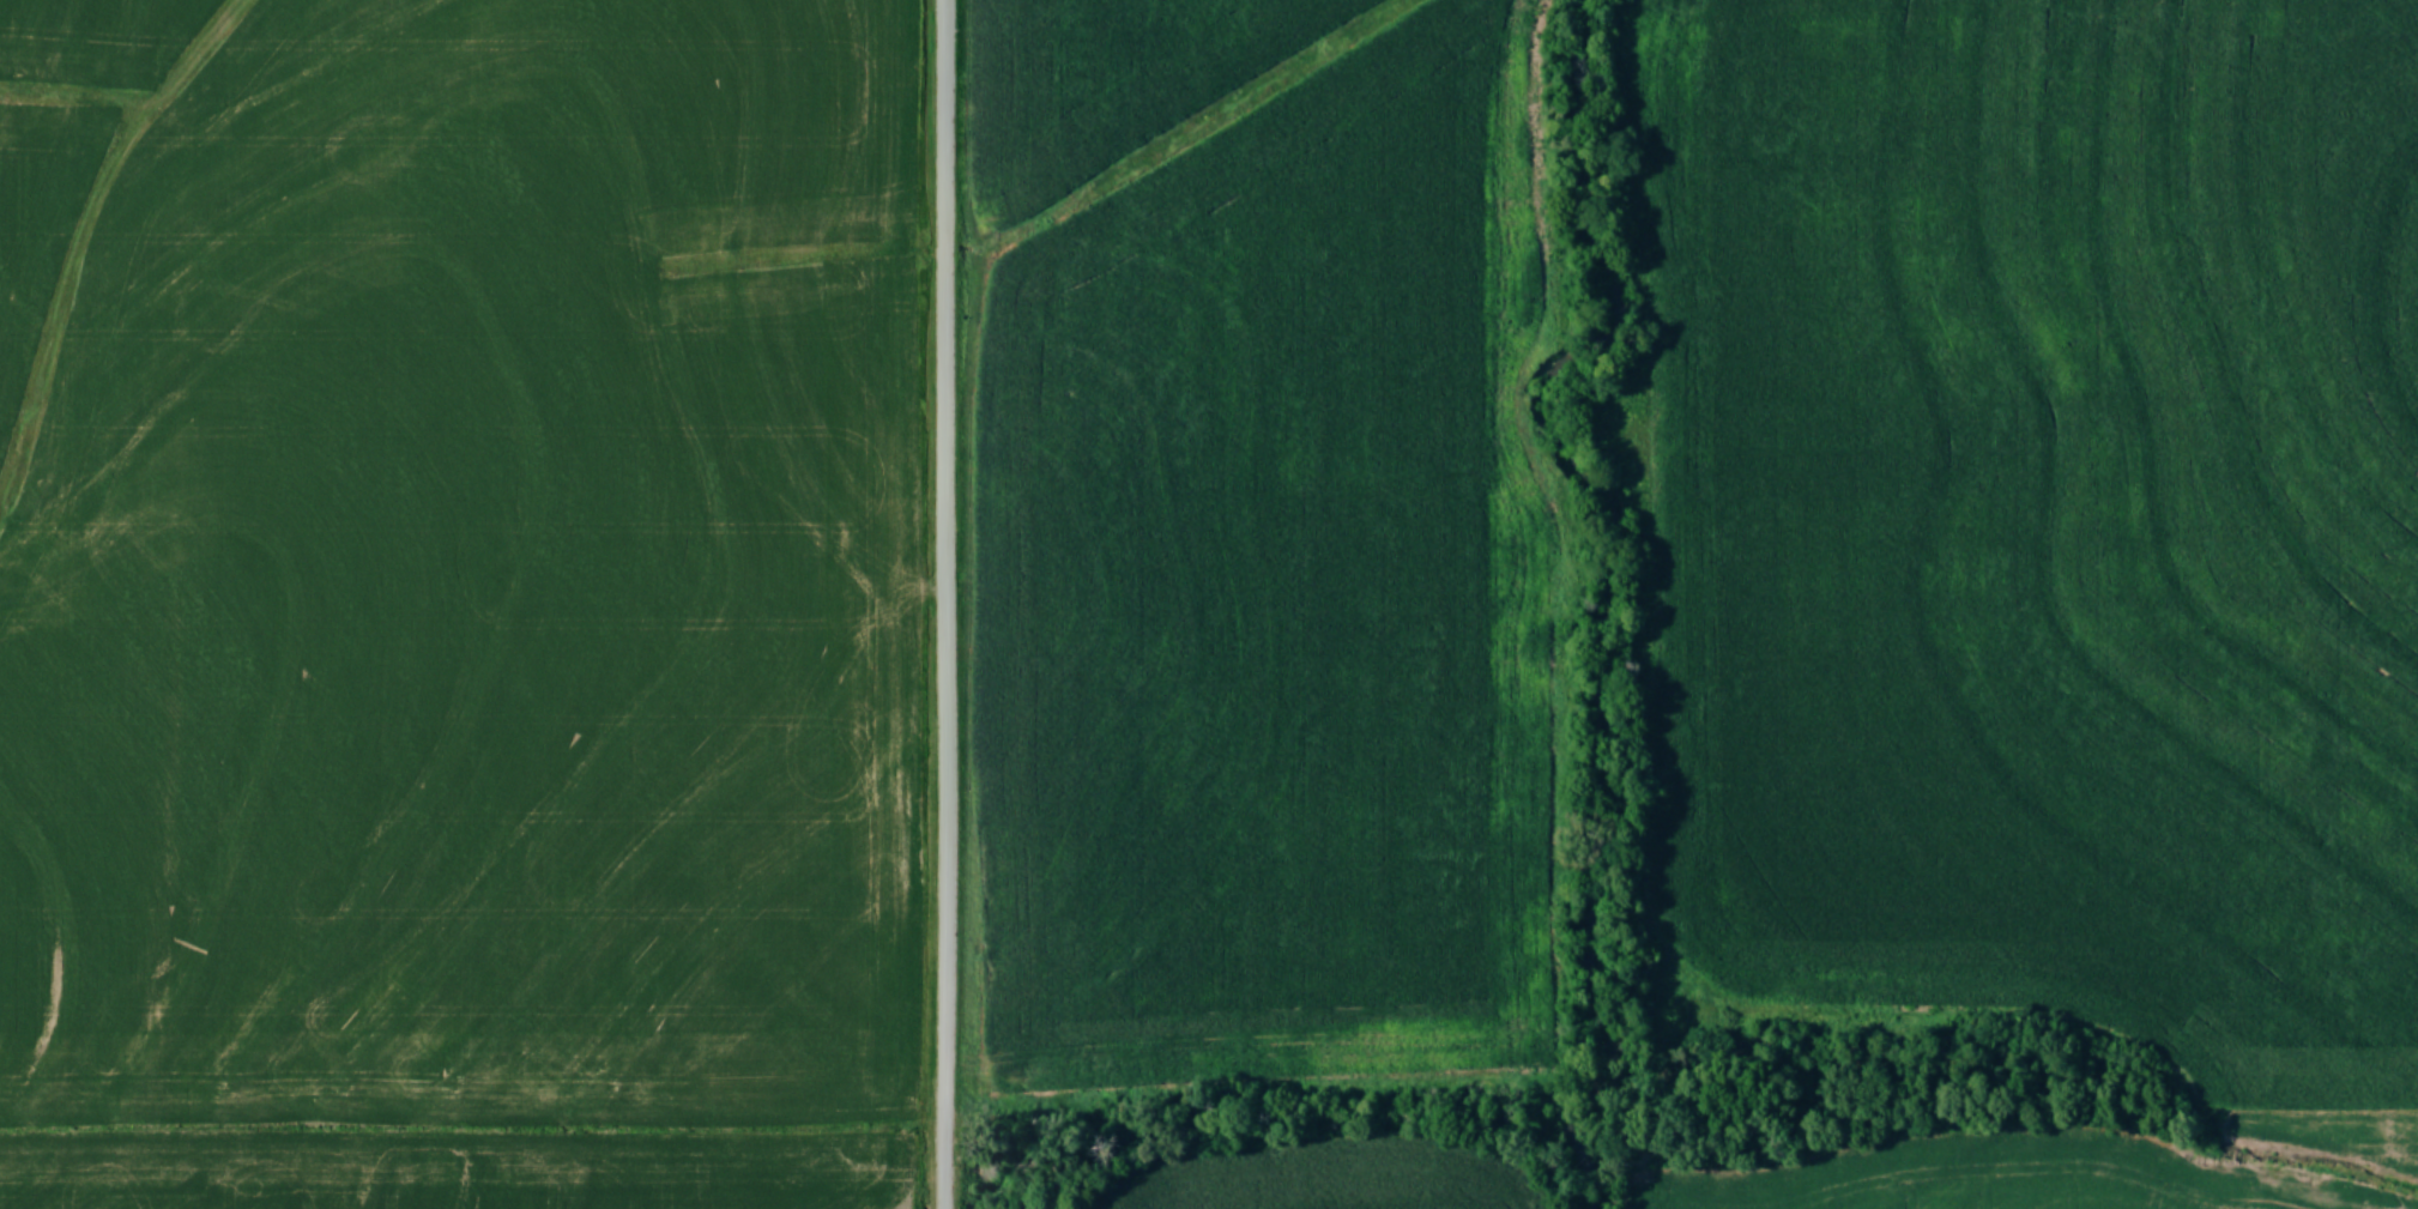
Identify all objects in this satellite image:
road: (950, 604)

